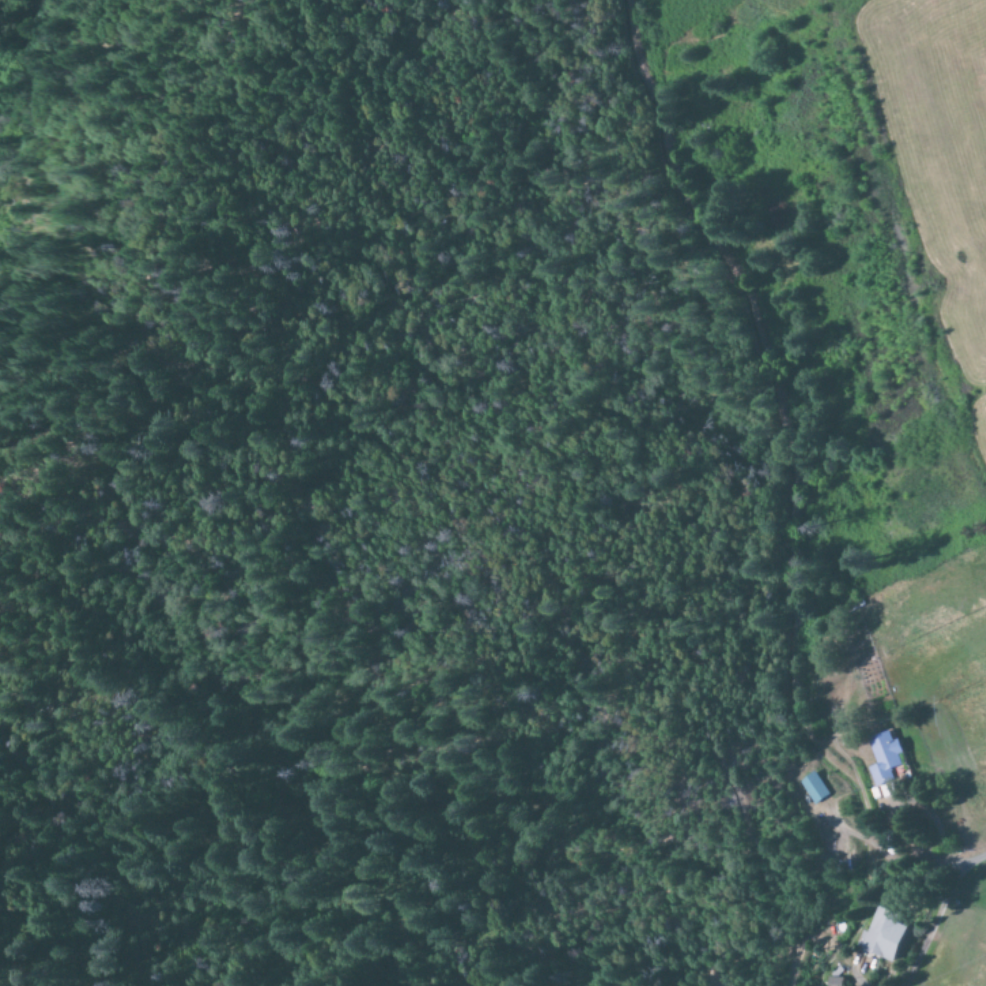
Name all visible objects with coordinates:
building: (885, 758)
building: (814, 789)
building: (886, 935)

